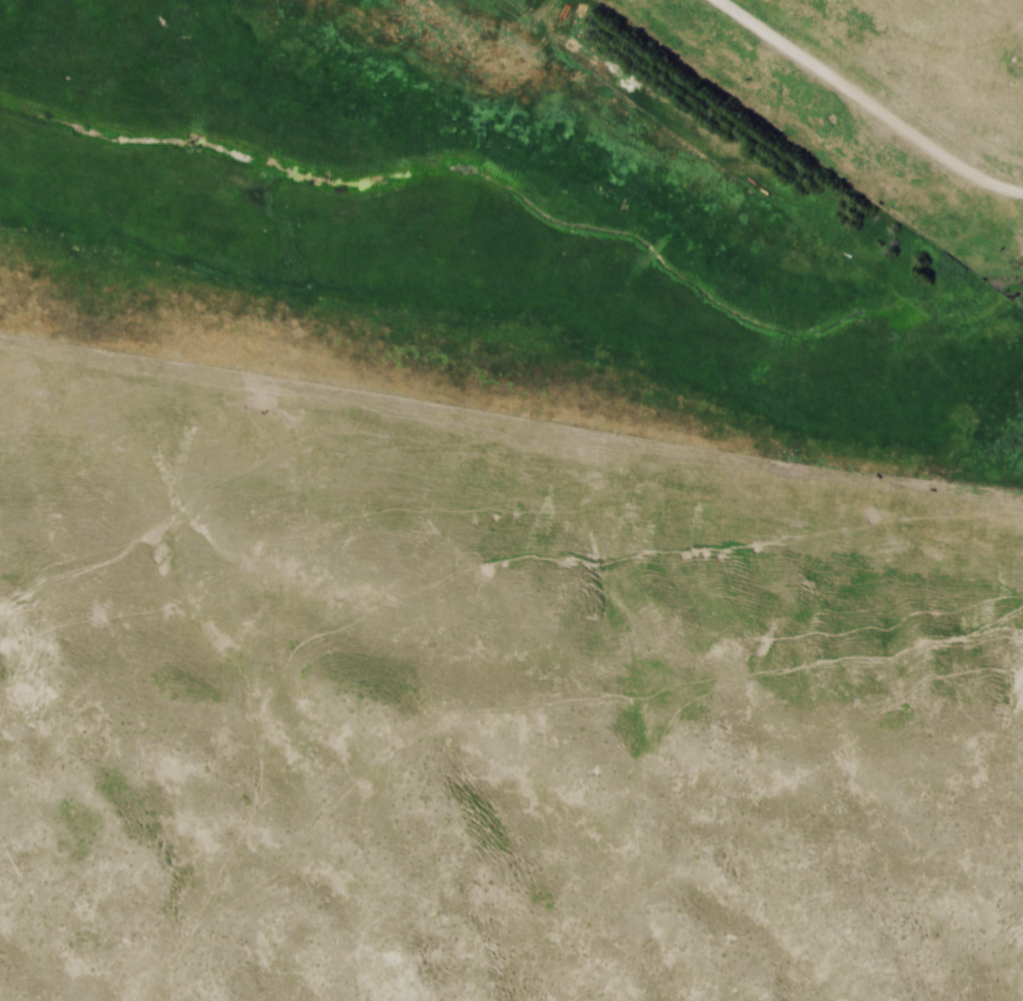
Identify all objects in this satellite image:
road: (874, 101)
airport runway: (511, 427)

